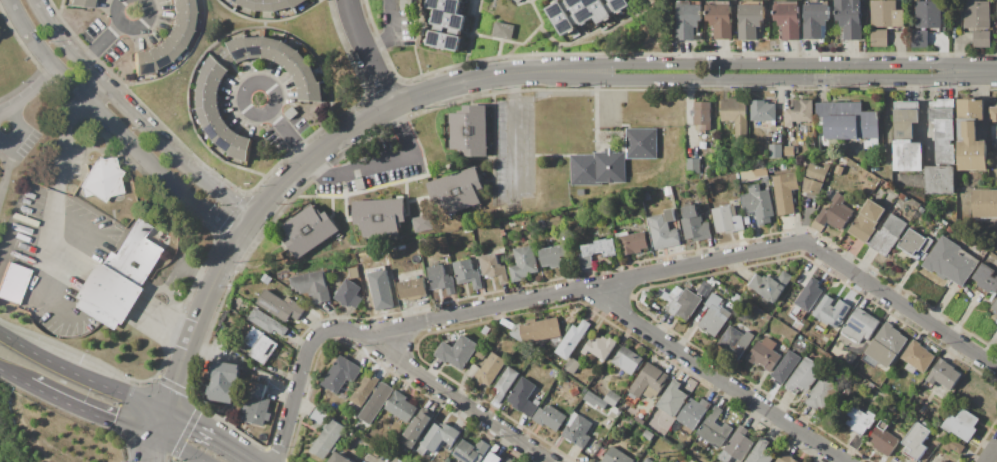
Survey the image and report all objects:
road: (2, 0)
building: (236, 1)
building: (517, 1)
building: (296, 2)
building: (80, 3)
building: (248, 3)
building: (281, 4)
building: (406, 4)
building: (619, 4)
road: (139, 5)
building: (265, 5)
building: (305, 5)
building: (182, 6)
building: (590, 9)
building: (448, 13)
building: (886, 14)
building: (928, 14)
building: (976, 15)
building: (996, 16)
building: (561, 18)
building: (850, 18)
building: (815, 19)
building: (182, 20)
building: (789, 20)
building: (688, 21)
building: (721, 21)
building: (751, 21)
road: (391, 31)
building: (503, 31)
building: (177, 35)
road: (107, 36)
building: (879, 38)
building: (918, 39)
building: (982, 39)
building: (444, 40)
building: (255, 46)
building: (167, 48)
building: (238, 48)
building: (270, 48)
building: (285, 53)
road: (367, 55)
building: (155, 57)
building: (225, 57)
building: (141, 63)
park: (11, 64)
building: (297, 64)
building: (214, 68)
road: (602, 72)
building: (305, 77)
building: (209, 83)
building: (310, 92)
road: (26, 96)
building: (207, 99)
building: (763, 111)
building: (799, 112)
building: (291, 113)
building: (993, 114)
building: (209, 115)
building: (701, 115)
road: (135, 117)
building: (736, 117)
building: (846, 120)
building: (904, 120)
road: (114, 127)
building: (217, 129)
road: (66, 130)
road: (284, 130)
building: (469, 131)
building: (944, 134)
building: (971, 136)
building: (228, 139)
road: (512, 139)
building: (641, 144)
building: (241, 148)
building: (775, 151)
building: (789, 151)
road: (4, 154)
building: (908, 156)
building: (841, 161)
road: (379, 163)
building: (693, 166)
building: (597, 168)
building: (818, 171)
building: (763, 173)
building: (101, 180)
building: (940, 180)
building: (360, 184)
building: (884, 184)
building: (812, 187)
building: (668, 191)
building: (784, 192)
building: (457, 193)
building: (645, 195)
building: (902, 196)
building: (758, 203)
building: (985, 203)
building: (922, 210)
building: (836, 213)
building: (946, 213)
building: (378, 218)
building: (727, 219)
building: (746, 219)
building: (866, 220)
building: (511, 223)
building: (421, 224)
building: (694, 224)
road: (246, 228)
building: (949, 229)
building: (663, 230)
building: (309, 231)
building: (887, 235)
building: (914, 241)
building: (423, 242)
building: (632, 242)
road: (47, 247)
building: (597, 251)
building: (134, 255)
building: (553, 257)
building: (950, 262)
building: (523, 263)
building: (493, 267)
building: (354, 273)
building: (467, 273)
road: (196, 274)
building: (986, 278)
building: (266, 279)
building: (441, 279)
building: (802, 279)
road: (607, 283)
building: (12, 285)
building: (312, 285)
building: (771, 285)
building: (381, 289)
building: (411, 289)
building: (702, 289)
building: (110, 293)
building: (348, 294)
building: (809, 295)
road: (40, 301)
building: (683, 303)
building: (280, 306)
building: (995, 307)
building: (831, 312)
building: (97, 314)
building: (716, 314)
road: (198, 322)
building: (267, 322)
building: (860, 325)
road: (161, 326)
building: (797, 327)
building: (485, 330)
building: (540, 330)
building: (517, 335)
building: (572, 339)
building: (734, 342)
building: (864, 345)
building: (885, 345)
building: (601, 346)
building: (484, 348)
building: (264, 349)
building: (457, 352)
building: (764, 354)
building: (917, 357)
building: (628, 360)
building: (572, 366)
building: (785, 367)
building: (490, 369)
road: (14, 374)
building: (341, 374)
building: (944, 374)
road: (79, 375)
building: (804, 375)
road: (720, 379)
building: (224, 382)
building: (649, 382)
building: (504, 383)
building: (364, 389)
building: (574, 391)
building: (821, 393)
building: (524, 397)
building: (592, 398)
road: (460, 399)
building: (612, 399)
building: (672, 399)
building: (376, 402)
building: (257, 403)
building: (401, 407)
road: (91, 408)
traffic signals: (164, 409)
building: (694, 413)
building: (549, 418)
building: (640, 418)
building: (858, 420)
road: (158, 422)
building: (962, 425)
building: (417, 428)
building: (715, 428)
building: (578, 432)
road: (206, 435)
building: (439, 435)
building: (647, 435)
traffic signals: (153, 436)
building: (328, 439)
building: (916, 440)
building: (855, 441)
building: (883, 441)
building: (952, 445)
building: (736, 446)
road: (159, 447)
road: (180, 447)
road: (145, 448)
building: (421, 450)
building: (471, 451)
building: (760, 452)
road: (992, 454)
building: (616, 456)
building: (785, 457)
building: (340, 458)
building: (492, 458)
road: (164, 460)
building: (508, 460)
building: (647, 460)
building: (673, 461)
building: (940, 461)
building: (942, 461)

